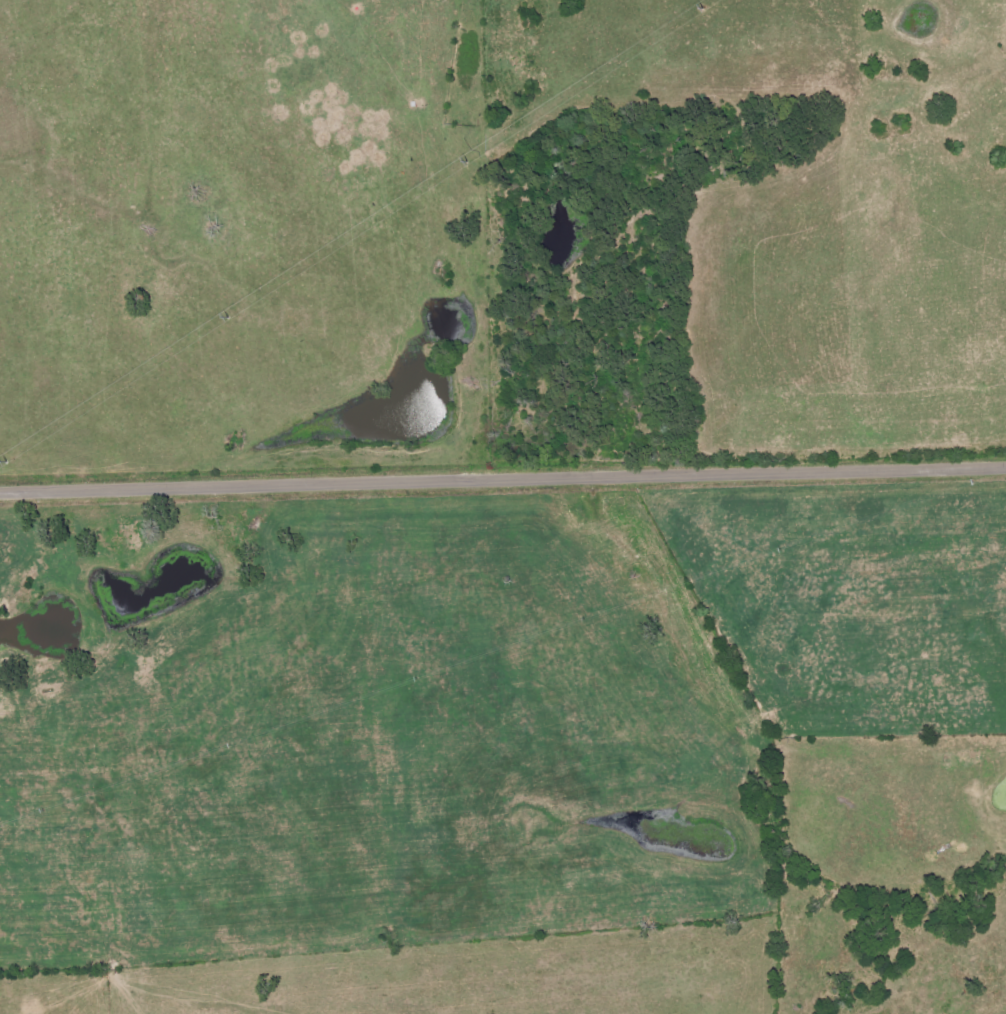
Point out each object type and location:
power tower: (703, 9)
power tower: (467, 161)
power tower: (230, 317)
power tower: (8, 461)
road: (503, 477)

